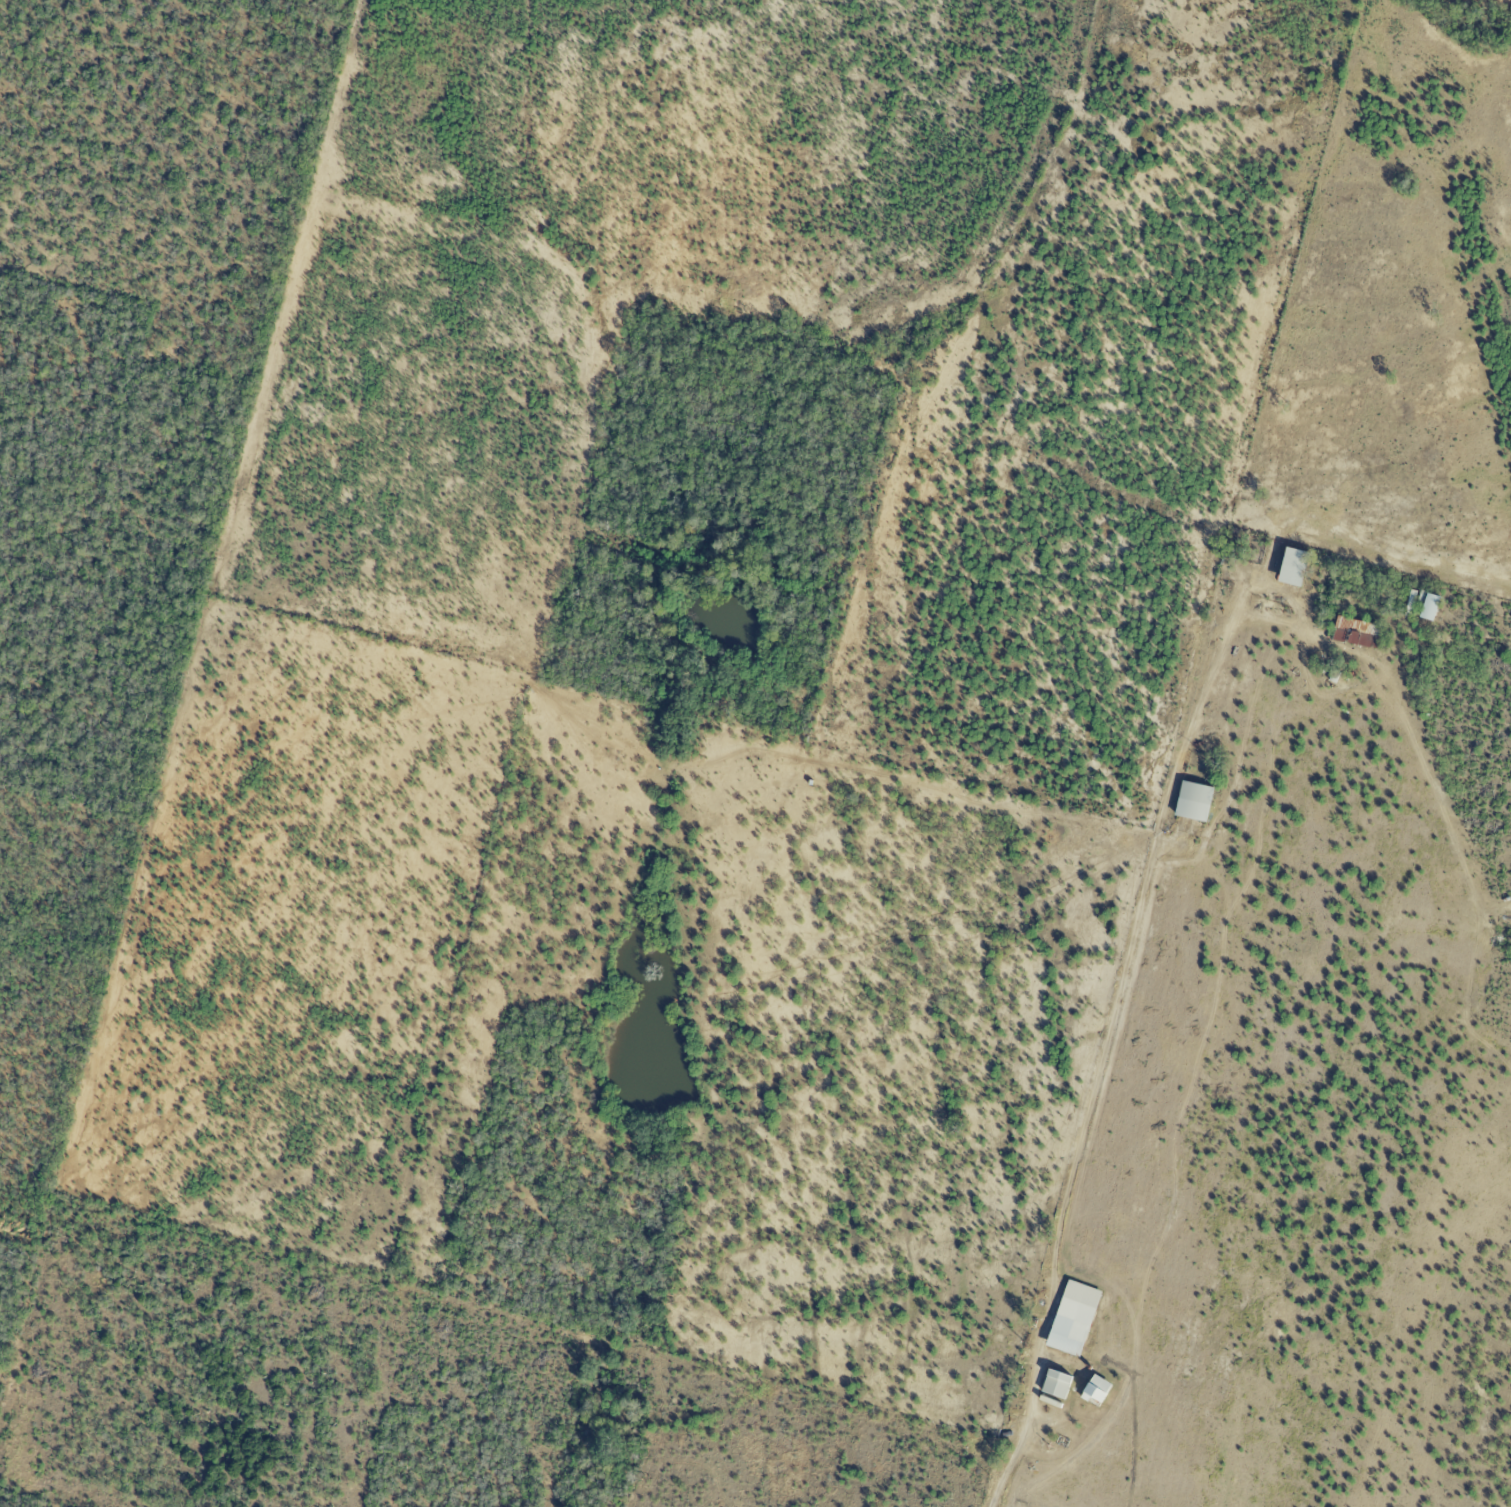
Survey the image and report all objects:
building: (1294, 567)
building: (1430, 607)
building: (1357, 633)
building: (1194, 802)
road: (1141, 897)
building: (1074, 1318)
building: (1057, 1384)
building: (1097, 1390)

